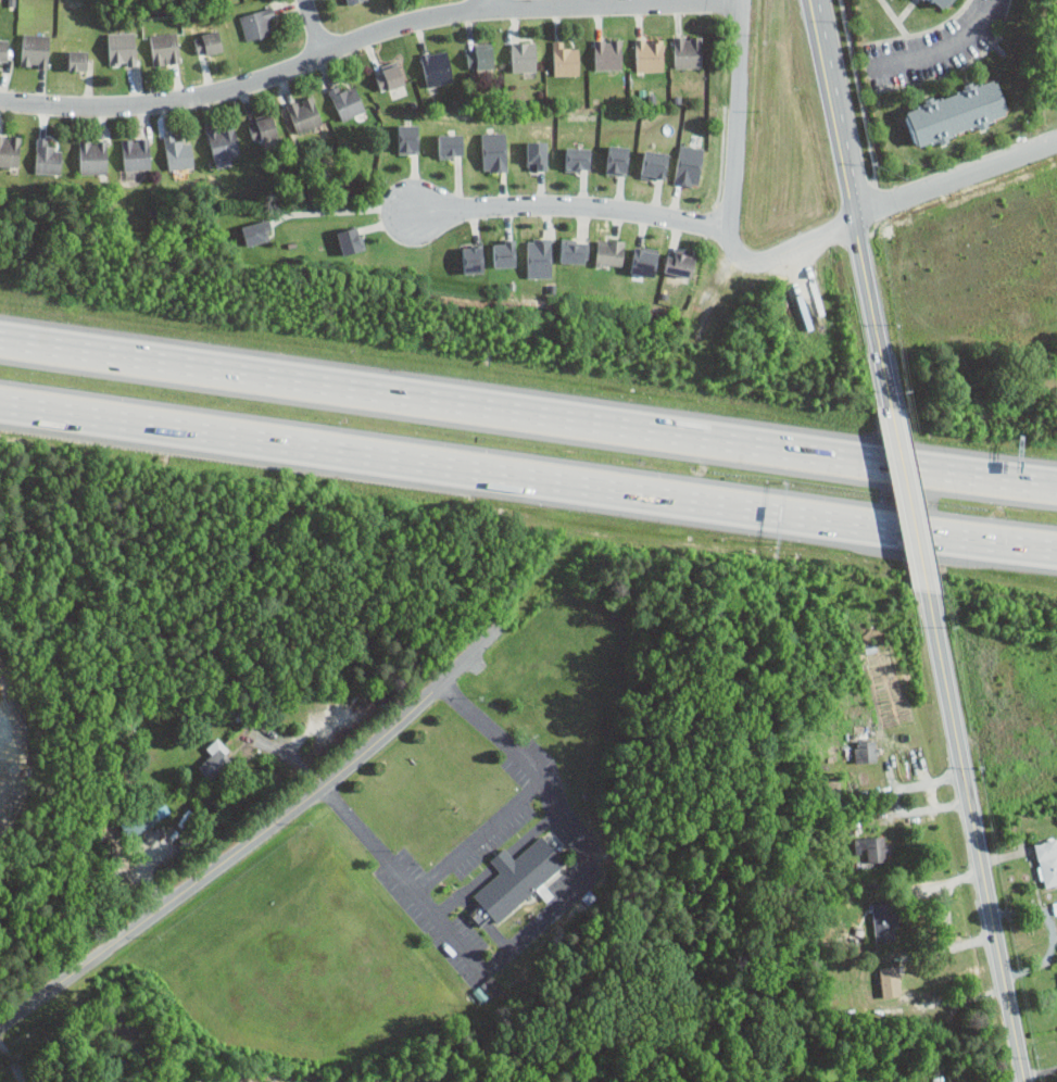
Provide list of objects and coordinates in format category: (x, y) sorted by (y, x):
building: (352, 1)
building: (941, 3)
road: (488, 4)
building: (256, 23)
road: (314, 26)
road: (368, 34)
building: (209, 42)
road: (944, 43)
building: (122, 48)
building: (165, 48)
building: (3, 49)
building: (35, 50)
building: (688, 51)
building: (607, 53)
building: (650, 54)
building: (524, 56)
building: (480, 58)
building: (565, 59)
building: (77, 60)
building: (437, 67)
building: (392, 80)
building: (347, 101)
building: (955, 112)
building: (304, 113)
road: (738, 114)
building: (263, 128)
building: (407, 136)
building: (225, 141)
building: (450, 144)
building: (10, 150)
building: (494, 151)
building: (137, 153)
building: (178, 153)
building: (536, 154)
building: (93, 156)
building: (47, 158)
building: (578, 158)
building: (617, 159)
building: (654, 164)
building: (689, 165)
road: (850, 194)
road: (882, 202)
road: (572, 204)
road: (347, 210)
building: (254, 230)
building: (351, 239)
building: (572, 250)
building: (504, 252)
building: (609, 253)
building: (539, 256)
building: (473, 259)
building: (644, 260)
building: (679, 263)
road: (528, 416)
road: (528, 475)
road: (907, 493)
building: (867, 751)
building: (216, 759)
building: (147, 818)
road: (260, 834)
road: (476, 835)
road: (973, 840)
building: (873, 848)
building: (1046, 860)
building: (517, 879)
building: (1056, 905)
road: (537, 919)
building: (884, 920)
building: (890, 980)
road: (12, 1060)

